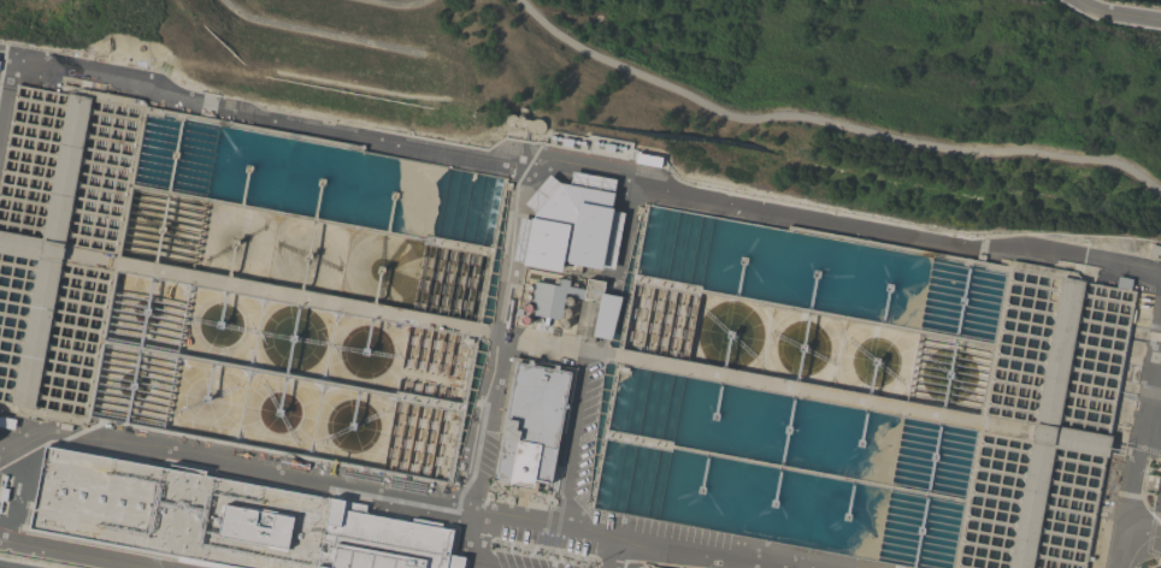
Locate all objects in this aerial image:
road: (1116, 17)
road: (559, 160)
building: (572, 230)
building: (20, 288)
building: (548, 309)
road: (497, 336)
road: (544, 347)
building: (534, 426)
building: (726, 438)
building: (962, 444)
road: (1137, 444)
road: (574, 445)
road: (277, 477)
building: (104, 502)
building: (355, 534)
road: (1122, 545)
road: (664, 549)

